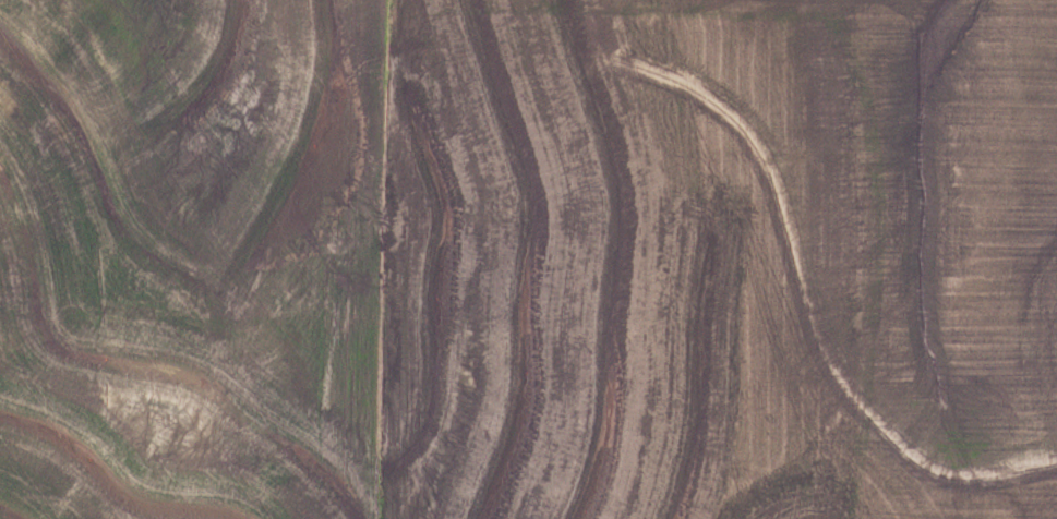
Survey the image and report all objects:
crop: (719, 259)

